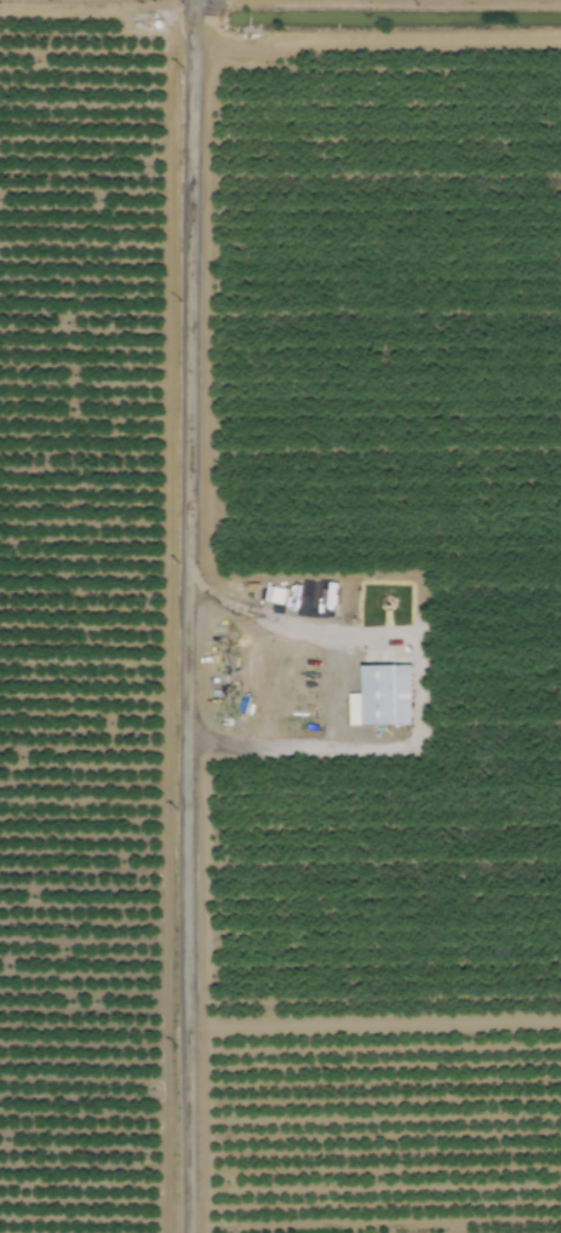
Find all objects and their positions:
road: (194, 616)
road: (331, 688)
building: (382, 695)

